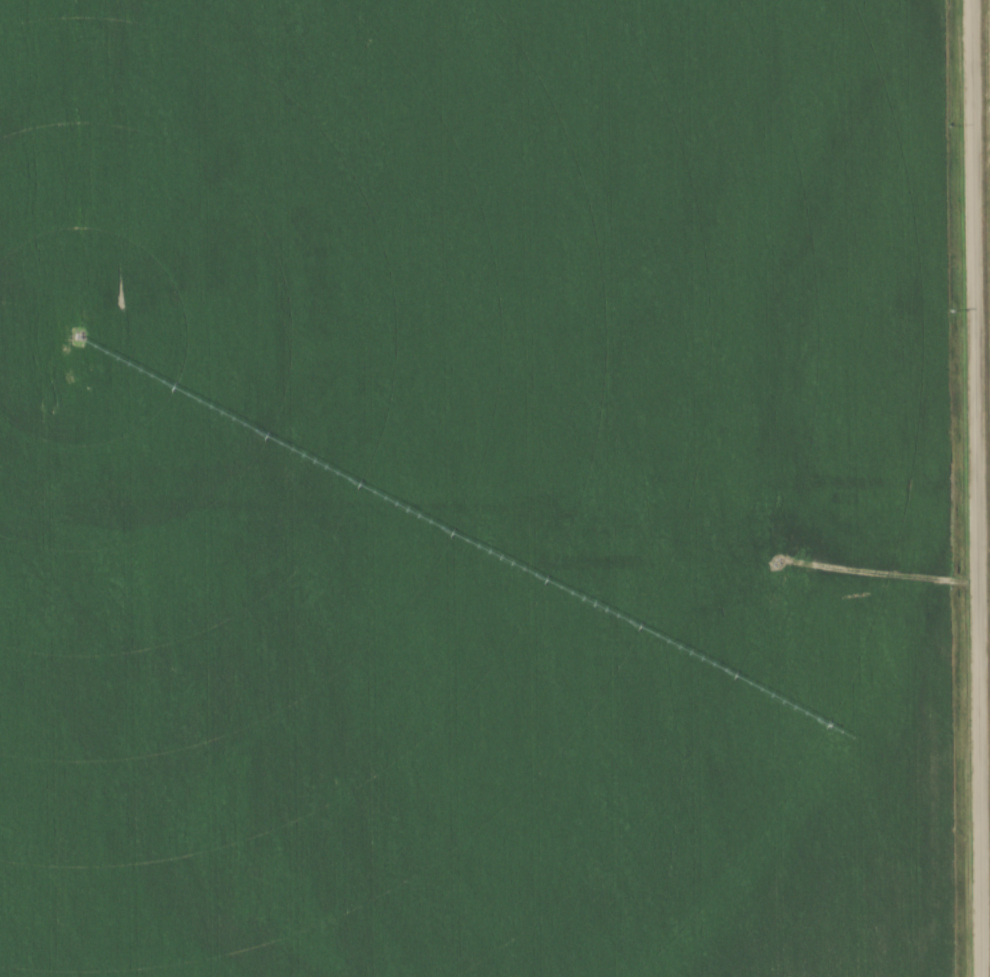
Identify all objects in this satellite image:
road: (969, 488)

